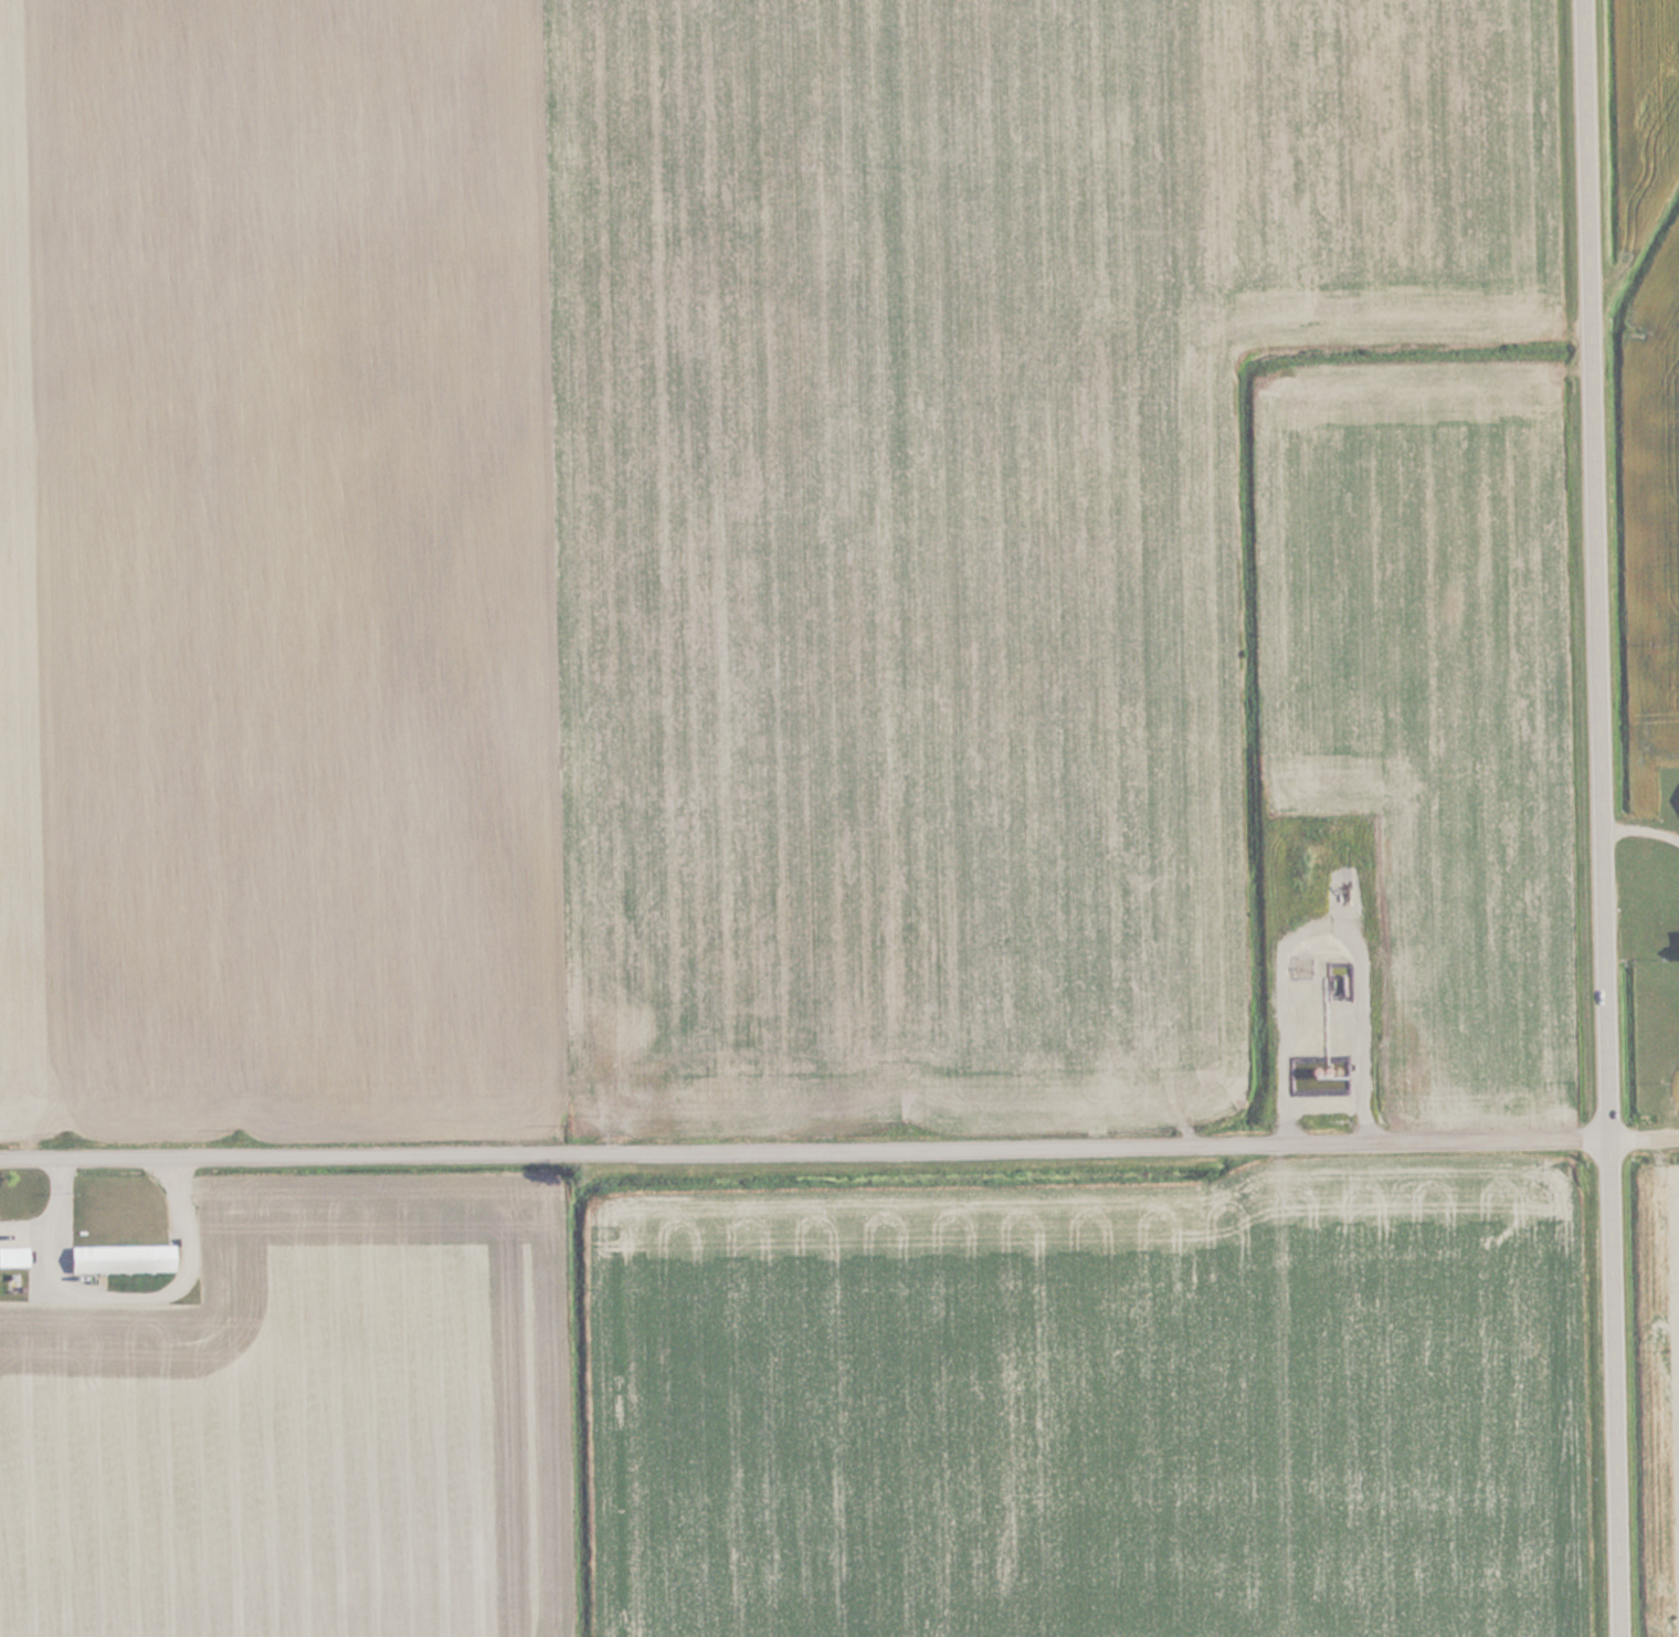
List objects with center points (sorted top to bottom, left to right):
road: (1597, 817)
building: (1316, 1075)
road: (839, 1142)
building: (12, 1255)
building: (119, 1258)

